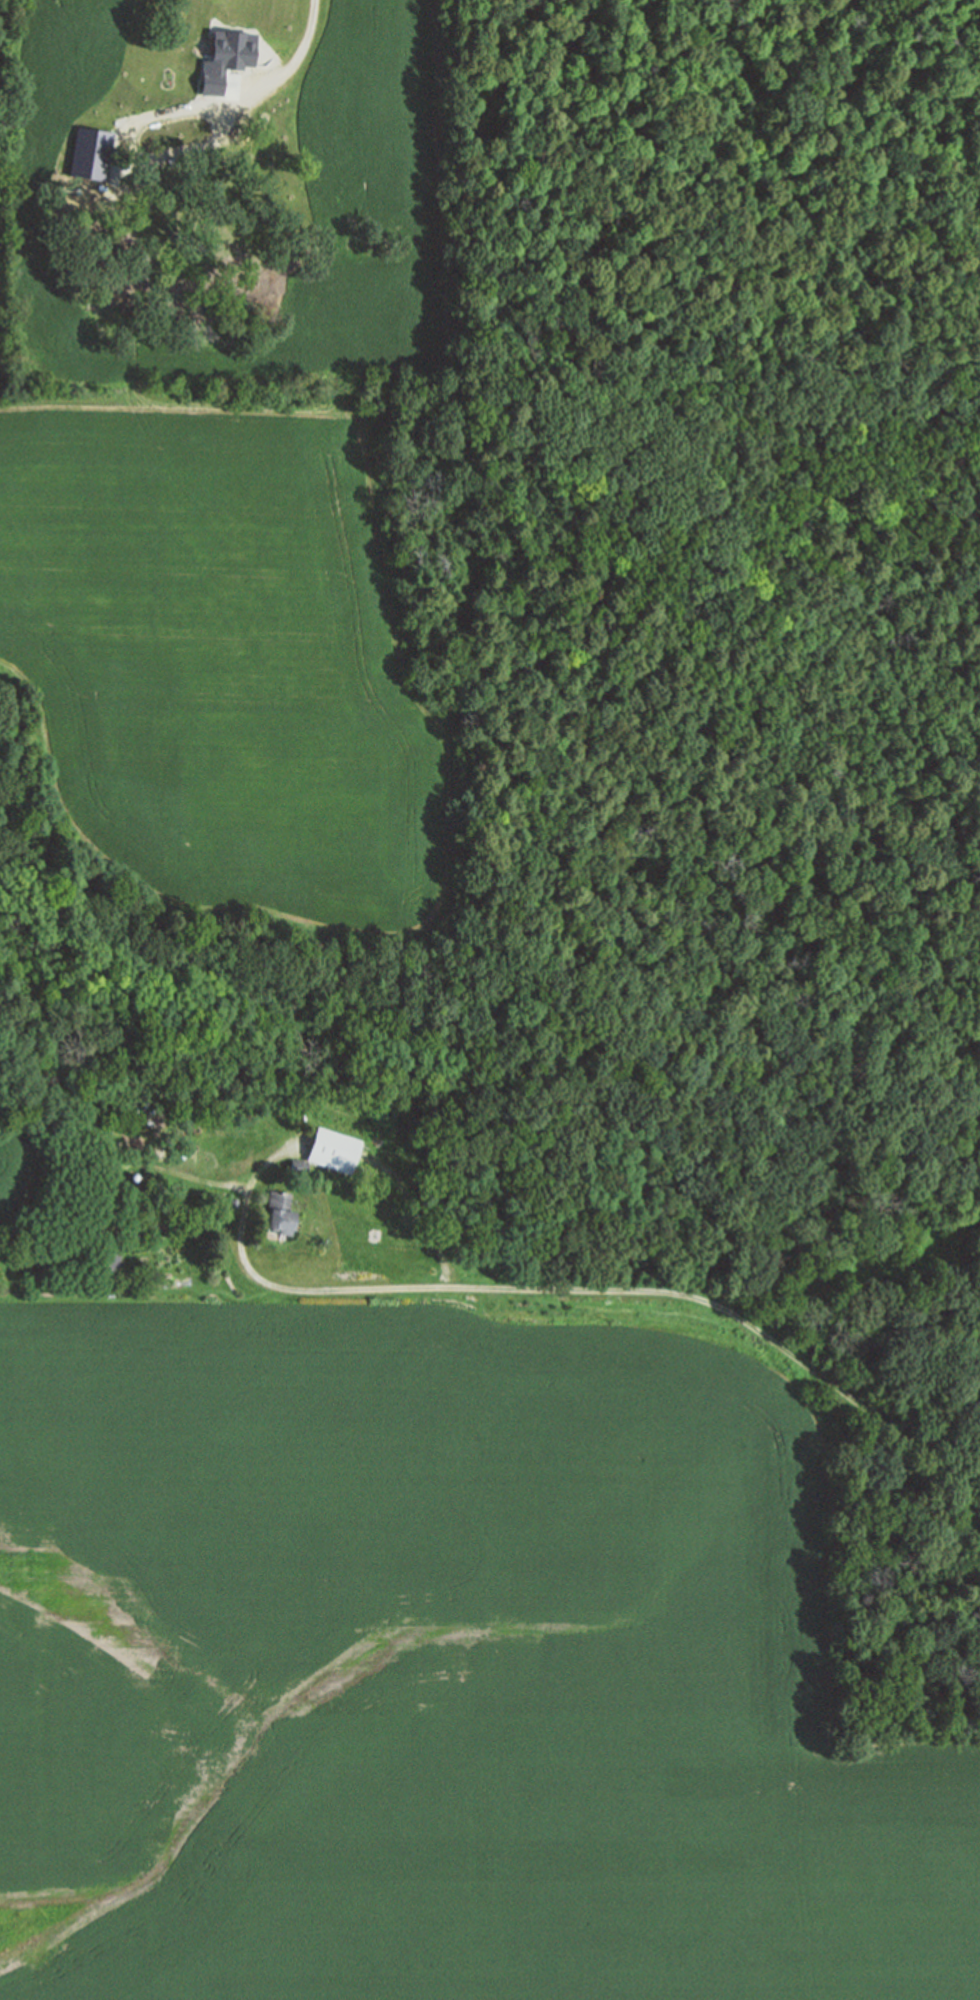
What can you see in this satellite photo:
road: (11, 759)
road: (62, 1042)
road: (104, 1194)
building: (278, 1212)
building: (102, 1258)
road: (876, 1268)
road: (602, 1289)

